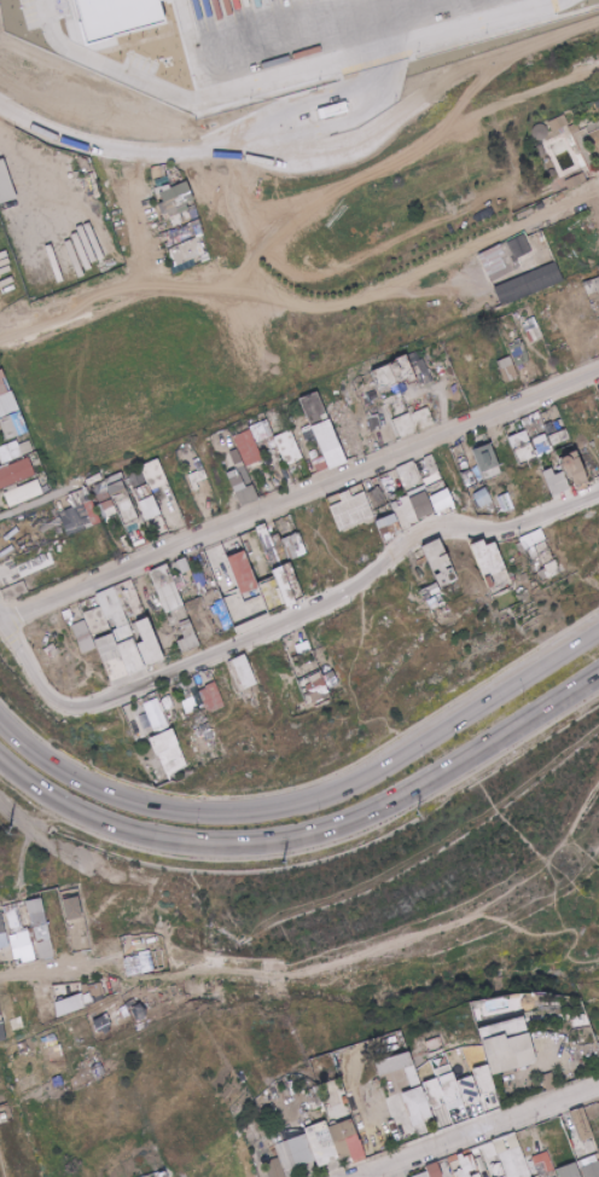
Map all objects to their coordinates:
parking lot: (337, 39)
crop: (360, 189)
crop: (138, 373)
power tower: (417, 807)
power tower: (8, 824)
power tower: (283, 856)

